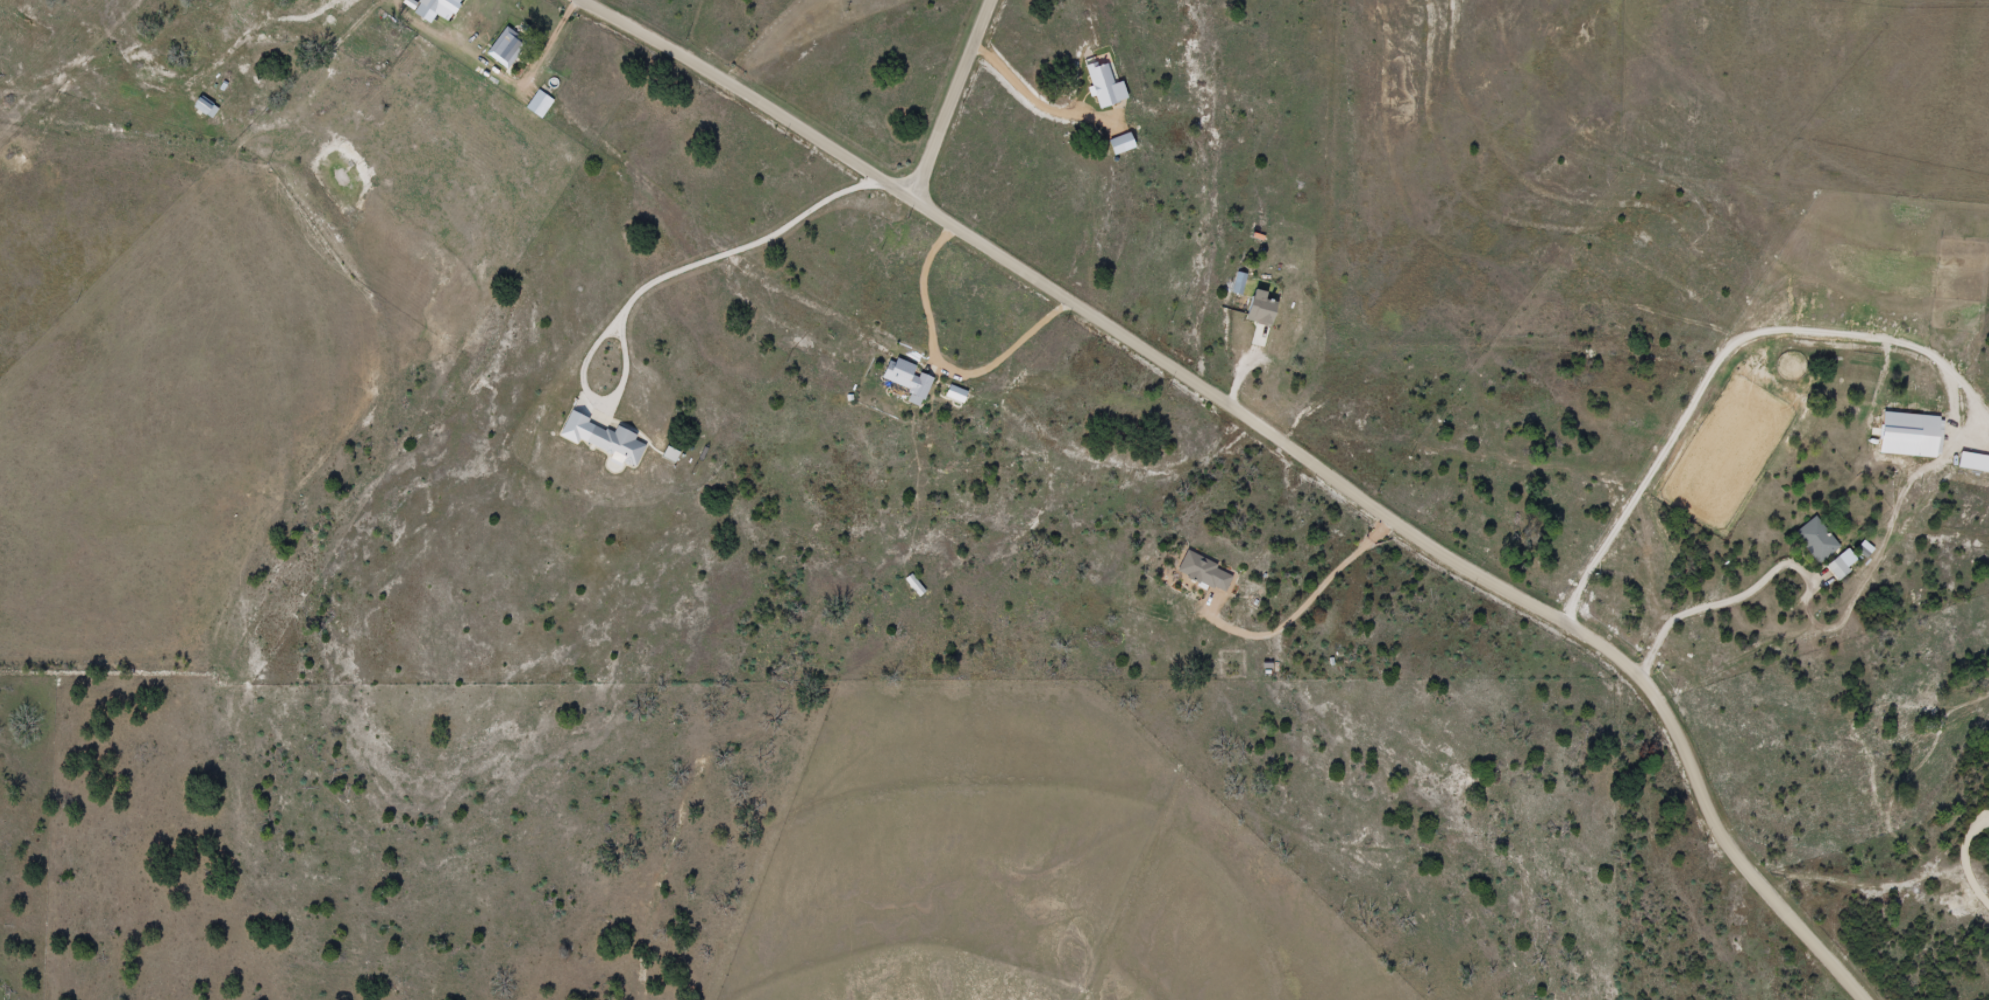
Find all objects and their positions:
building: (429, 10)
building: (507, 49)
road: (952, 99)
building: (203, 107)
building: (908, 381)
road: (1705, 382)
building: (613, 444)
road: (1282, 448)
building: (1817, 541)
building: (1838, 570)
building: (1205, 574)
building: (914, 586)

